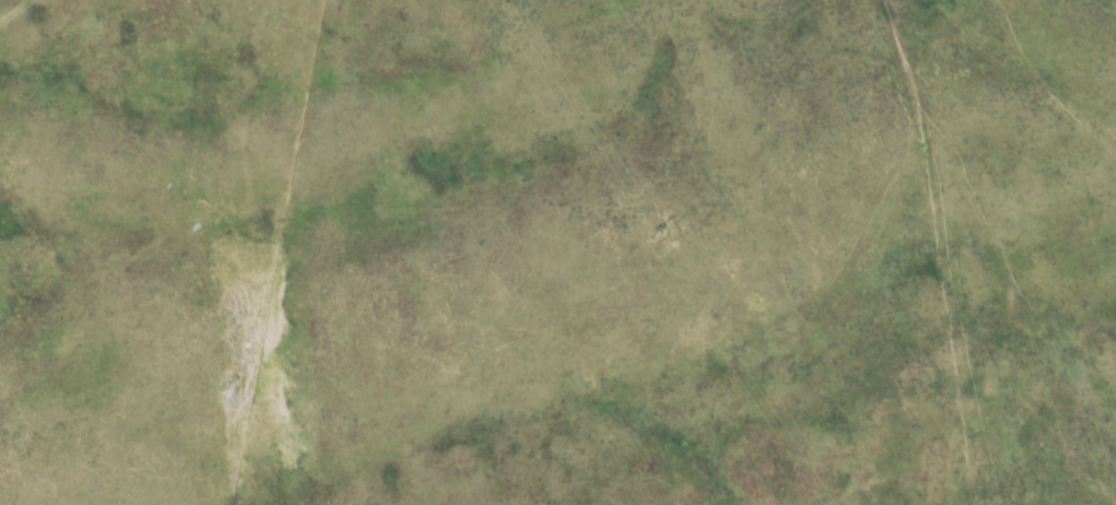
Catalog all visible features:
power tower: (661, 234)

